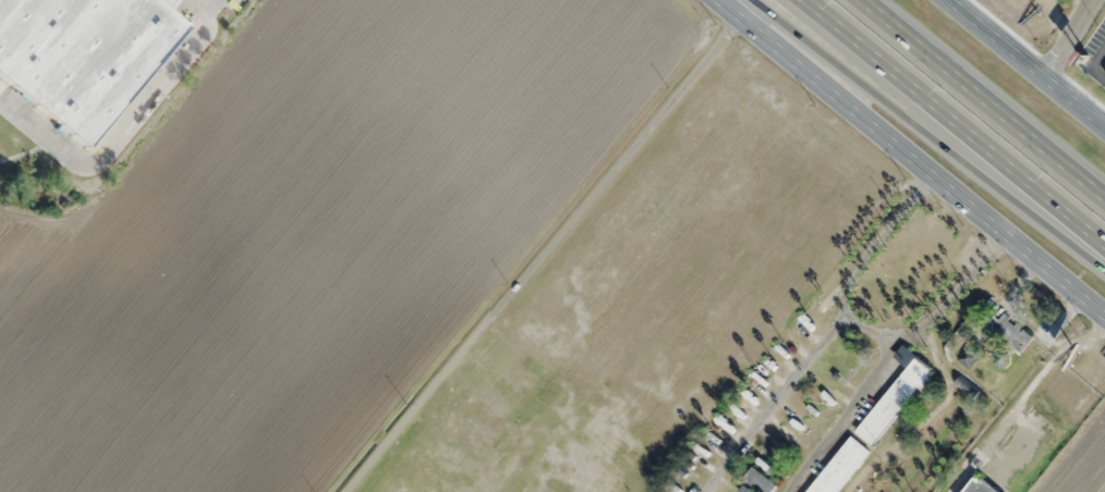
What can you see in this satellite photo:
road: (1068, 40)
building: (80, 52)
road: (1022, 64)
road: (169, 82)
road: (988, 94)
road: (951, 126)
road: (50, 135)
road: (918, 136)
road: (908, 157)
road: (539, 255)
building: (1009, 331)
road: (855, 333)
road: (776, 410)
road: (850, 419)
building: (873, 421)
building: (758, 480)
building: (979, 485)

